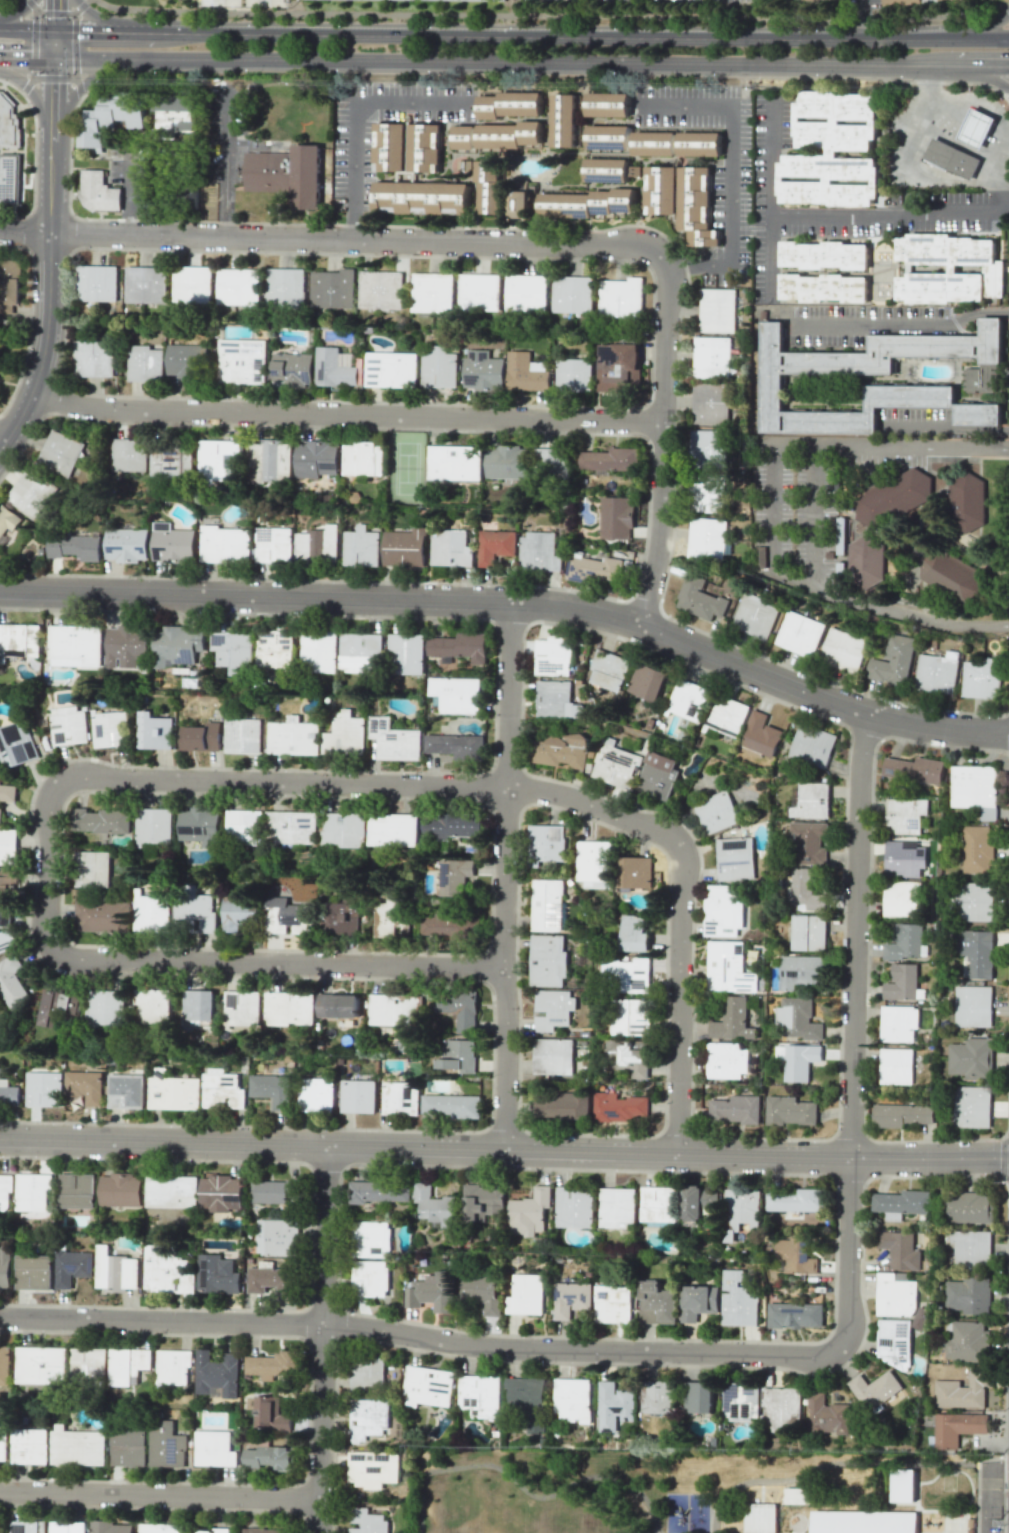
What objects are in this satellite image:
building: (476, 0)
building: (816, 0)
road: (218, 1)
road: (259, 2)
building: (931, 2)
road: (30, 6)
road: (81, 6)
road: (1007, 8)
road: (18, 12)
road: (35, 14)
road: (548, 15)
road: (54, 16)
road: (863, 18)
road: (118, 24)
road: (974, 28)
road: (27, 30)
traffic signals: (54, 32)
road: (109, 33)
road: (551, 35)
road: (973, 39)
road: (54, 44)
road: (26, 56)
traffic signals: (54, 57)
road: (97, 58)
road: (544, 62)
road: (977, 66)
road: (978, 73)
road: (27, 85)
road: (77, 87)
road: (75, 90)
road: (1008, 96)
building: (610, 100)
building: (510, 102)
road: (984, 102)
road: (39, 107)
road: (54, 109)
building: (176, 112)
building: (566, 116)
road: (354, 119)
building: (8, 121)
building: (977, 128)
road: (943, 131)
building: (512, 136)
building: (610, 136)
building: (656, 142)
building: (701, 142)
building: (392, 144)
building: (428, 145)
building: (465, 148)
building: (832, 151)
building: (952, 159)
road: (226, 165)
building: (607, 167)
building: (287, 173)
road: (729, 173)
road: (920, 175)
building: (9, 178)
road: (999, 183)
building: (493, 185)
building: (662, 189)
building: (696, 190)
building: (99, 191)
road: (129, 191)
building: (423, 198)
building: (522, 199)
road: (768, 201)
building: (587, 202)
road: (888, 216)
road: (327, 239)
building: (825, 254)
building: (950, 266)
building: (96, 283)
building: (136, 284)
building: (192, 284)
building: (10, 285)
building: (823, 286)
building: (238, 287)
building: (285, 287)
building: (333, 288)
building: (382, 289)
building: (527, 290)
building: (433, 291)
building: (480, 291)
building: (573, 293)
building: (621, 298)
building: (716, 299)
road: (48, 308)
building: (716, 321)
road: (902, 324)
street lamp: (649, 333)
building: (712, 348)
building: (84, 358)
building: (187, 360)
building: (242, 361)
building: (144, 363)
building: (618, 366)
building: (438, 367)
building: (392, 368)
building: (292, 369)
building: (334, 369)
building: (711, 369)
building: (483, 371)
building: (524, 372)
building: (573, 375)
building: (772, 379)
building: (710, 403)
road: (346, 415)
road: (661, 436)
road: (0, 442)
road: (891, 446)
building: (707, 449)
building: (60, 452)
building: (128, 454)
building: (316, 459)
building: (363, 459)
building: (609, 460)
building: (270, 461)
building: (454, 462)
building: (506, 462)
building: (553, 462)
building: (166, 463)
park: (406, 468)
building: (32, 493)
building: (707, 493)
building: (892, 500)
building: (965, 502)
road: (772, 509)
parking lot: (794, 513)
road: (813, 516)
building: (616, 517)
building: (8, 519)
building: (707, 538)
building: (172, 544)
building: (224, 544)
building: (126, 545)
building: (273, 545)
building: (317, 545)
building: (495, 546)
building: (76, 547)
building: (361, 547)
building: (404, 547)
building: (450, 548)
building: (538, 552)
building: (864, 563)
building: (595, 568)
building: (950, 576)
road: (793, 580)
building: (699, 599)
road: (515, 602)
road: (909, 615)
building: (754, 618)
building: (799, 633)
building: (19, 640)
building: (74, 645)
building: (126, 645)
building: (176, 645)
building: (459, 645)
building: (232, 649)
building: (274, 649)
building: (318, 649)
building: (843, 650)
building: (360, 652)
building: (405, 653)
building: (553, 656)
building: (892, 661)
building: (608, 670)
building: (935, 673)
building: (981, 678)
building: (647, 682)
building: (456, 694)
building: (687, 699)
building: (556, 700)
building: (726, 716)
building: (68, 725)
building: (109, 728)
building: (154, 731)
building: (241, 733)
building: (344, 734)
building: (760, 735)
building: (200, 737)
building: (293, 737)
building: (394, 740)
building: (17, 745)
building: (456, 745)
building: (811, 746)
building: (561, 750)
building: (616, 767)
building: (914, 769)
building: (657, 774)
road: (60, 782)
building: (976, 788)
building: (8, 792)
building: (811, 801)
building: (716, 812)
building: (0, 814)
building: (904, 815)
street lamp: (489, 818)
building: (102, 821)
building: (451, 825)
building: (153, 826)
building: (199, 826)
building: (242, 827)
building: (291, 827)
building: (393, 829)
building: (342, 830)
street lamp: (616, 833)
building: (544, 843)
building: (807, 843)
building: (8, 847)
building: (978, 849)
building: (735, 859)
building: (904, 859)
building: (593, 863)
building: (92, 869)
building: (635, 873)
building: (455, 876)
road: (504, 876)
building: (5, 888)
building: (807, 891)
building: (902, 898)
building: (975, 901)
building: (546, 904)
building: (193, 910)
building: (724, 910)
building: (238, 913)
building: (151, 914)
building: (101, 916)
building: (343, 916)
building: (387, 916)
building: (288, 917)
building: (450, 925)
street lamp: (519, 929)
building: (808, 932)
building: (634, 933)
building: (6, 934)
building: (905, 942)
building: (977, 952)
building: (547, 960)
building: (728, 968)
building: (801, 971)
building: (629, 976)
building: (11, 981)
building: (902, 982)
road: (679, 999)
building: (974, 1003)
building: (151, 1005)
building: (197, 1005)
building: (337, 1005)
building: (58, 1007)
building: (105, 1007)
building: (240, 1007)
building: (288, 1008)
building: (460, 1008)
building: (553, 1008)
building: (393, 1009)
building: (630, 1017)
building: (798, 1018)
building: (732, 1020)
building: (898, 1024)
road: (853, 1033)
building: (459, 1056)
building: (553, 1056)
building: (632, 1057)
building: (972, 1058)
building: (727, 1060)
building: (800, 1061)
building: (896, 1066)
building: (0, 1072)
street lamp: (487, 1079)
street lamp: (662, 1080)
building: (85, 1086)
building: (43, 1089)
building: (272, 1089)
building: (222, 1090)
building: (125, 1091)
building: (173, 1092)
building: (320, 1094)
building: (10, 1096)
building: (358, 1096)
building: (400, 1098)
building: (452, 1105)
building: (562, 1106)
building: (973, 1106)
building: (619, 1107)
building: (735, 1109)
building: (790, 1111)
building: (906, 1115)
road: (504, 1150)
building: (121, 1189)
building: (78, 1190)
building: (33, 1191)
building: (172, 1191)
building: (272, 1191)
building: (378, 1191)
building: (5, 1192)
building: (221, 1193)
building: (794, 1200)
building: (483, 1201)
building: (698, 1201)
building: (902, 1202)
building: (658, 1204)
building: (435, 1206)
building: (574, 1207)
building: (617, 1208)
building: (970, 1208)
building: (742, 1209)
building: (529, 1213)
building: (277, 1237)
building: (372, 1239)
building: (972, 1248)
building: (900, 1250)
building: (794, 1256)
building: (72, 1266)
building: (5, 1267)
building: (116, 1270)
building: (166, 1270)
building: (34, 1272)
building: (217, 1275)
building: (370, 1278)
building: (269, 1279)
building: (432, 1291)
building: (481, 1292)
building: (525, 1295)
building: (733, 1295)
building: (968, 1295)
building: (895, 1296)
building: (571, 1299)
building: (698, 1301)
building: (657, 1303)
building: (612, 1304)
building: (795, 1315)
road: (147, 1333)
street lamp: (69, 1334)
road: (417, 1337)
road: (325, 1340)
building: (894, 1342)
street lamp: (306, 1352)
building: (88, 1363)
building: (273, 1364)
building: (5, 1365)
building: (41, 1365)
building: (128, 1365)
building: (172, 1367)
building: (367, 1371)
building: (218, 1374)
building: (428, 1386)
building: (874, 1389)
building: (963, 1390)
building: (479, 1396)
building: (658, 1397)
building: (698, 1397)
building: (571, 1399)
building: (529, 1401)
building: (740, 1401)
building: (614, 1405)
building: (782, 1409)
building: (269, 1414)
building: (827, 1415)
building: (368, 1418)
building: (957, 1428)
building: (2, 1443)
building: (166, 1445)
building: (30, 1446)
building: (77, 1446)
building: (128, 1447)
building: (214, 1448)
building: (269, 1458)
road: (839, 1463)
road: (1003, 1463)
building: (372, 1468)
street lamp: (91, 1477)
road: (145, 1481)
road: (1006, 1483)
building: (903, 1485)
road: (524, 1490)
park: (530, 1490)
building: (799, 1495)
road: (158, 1497)
street lamp: (234, 1513)
building: (761, 1518)
building: (897, 1519)
building: (789, 1521)
building: (811, 1521)
building: (367, 1522)
building: (832, 1522)
building: (853, 1522)
building: (874, 1522)
building: (2, 1526)
building: (27, 1527)
building: (66, 1527)
building: (109, 1527)
building: (163, 1528)
road: (983, 1529)
building: (267, 1530)
building: (213, 1531)

